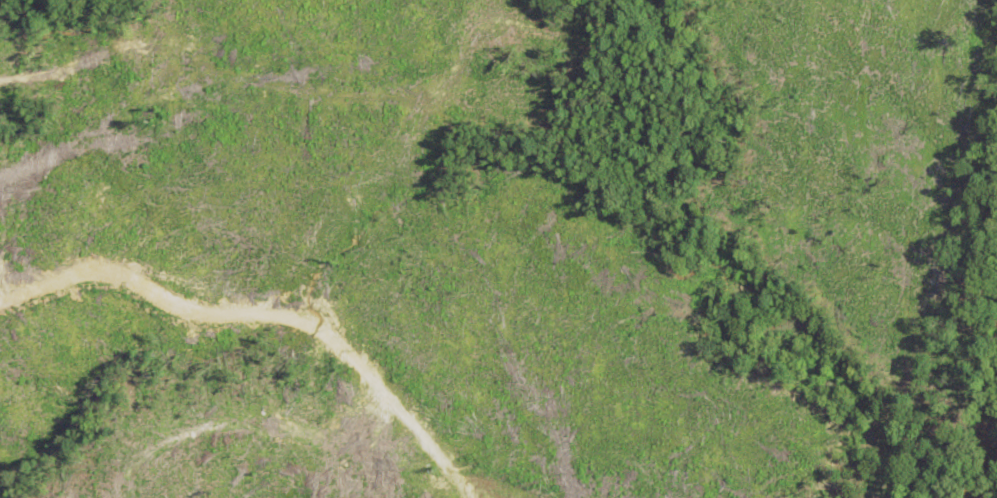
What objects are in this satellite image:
river: (991, 473)

